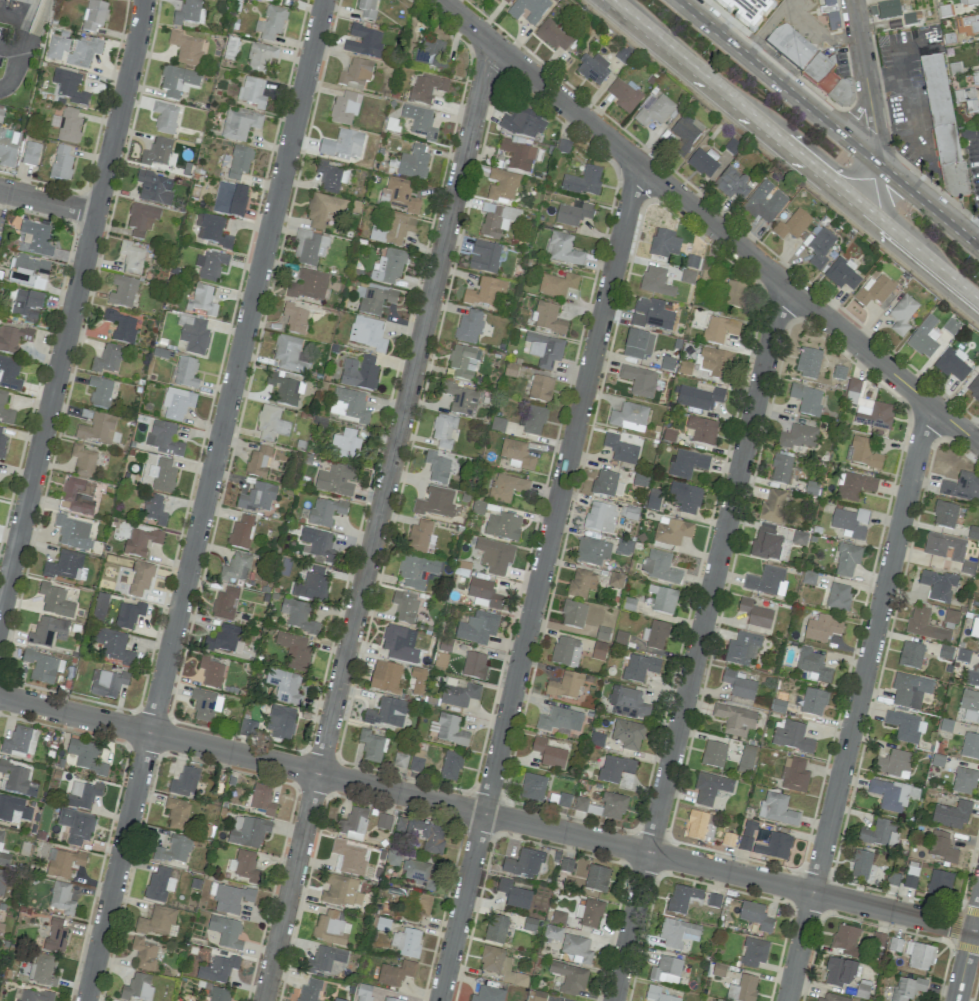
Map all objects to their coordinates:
building: (272, 0)
building: (504, 2)
road: (611, 4)
road: (612, 4)
building: (367, 8)
building: (888, 9)
building: (528, 10)
building: (747, 10)
building: (187, 12)
building: (831, 14)
building: (94, 15)
building: (270, 23)
building: (967, 25)
road: (766, 26)
road: (37, 27)
road: (818, 29)
building: (553, 36)
building: (363, 41)
building: (978, 42)
building: (791, 45)
road: (21, 46)
building: (186, 48)
road: (11, 49)
building: (73, 50)
building: (430, 53)
building: (260, 57)
building: (593, 68)
building: (356, 73)
road: (884, 78)
building: (975, 78)
building: (178, 81)
building: (829, 81)
road: (781, 83)
road: (866, 83)
building: (70, 87)
building: (426, 88)
building: (252, 92)
building: (623, 95)
building: (966, 98)
building: (344, 108)
road: (910, 110)
building: (654, 111)
building: (165, 117)
building: (420, 121)
building: (523, 123)
building: (67, 125)
building: (239, 125)
building: (943, 127)
building: (684, 133)
building: (343, 146)
building: (8, 148)
building: (157, 152)
road: (799, 152)
building: (30, 154)
building: (517, 155)
building: (703, 161)
building: (239, 162)
building: (413, 162)
building: (61, 163)
building: (330, 177)
building: (583, 181)
road: (870, 183)
building: (732, 184)
building: (501, 185)
building: (154, 188)
building: (399, 195)
building: (229, 199)
road: (48, 200)
building: (765, 202)
road: (930, 207)
building: (324, 209)
building: (573, 213)
building: (0, 219)
building: (141, 219)
building: (496, 220)
road: (709, 221)
building: (792, 225)
building: (394, 229)
building: (213, 231)
building: (35, 238)
building: (664, 243)
building: (309, 247)
building: (820, 247)
building: (563, 249)
building: (484, 256)
building: (131, 257)
building: (210, 265)
building: (388, 267)
building: (706, 269)
building: (28, 272)
building: (842, 274)
building: (655, 281)
building: (557, 284)
building: (308, 285)
building: (874, 290)
building: (122, 292)
building: (486, 292)
building: (734, 294)
building: (202, 300)
building: (375, 300)
building: (26, 304)
road: (73, 306)
building: (651, 314)
building: (902, 314)
building: (294, 318)
building: (549, 318)
building: (121, 326)
building: (469, 327)
building: (951, 327)
building: (719, 329)
building: (366, 333)
building: (924, 337)
building: (12, 338)
building: (638, 344)
building: (544, 349)
building: (289, 354)
building: (107, 359)
building: (463, 362)
building: (715, 362)
building: (808, 362)
building: (952, 365)
building: (185, 372)
building: (839, 372)
building: (359, 373)
building: (9, 374)
building: (639, 380)
building: (540, 388)
building: (974, 388)
building: (286, 390)
building: (100, 392)
building: (698, 396)
building: (461, 399)
building: (807, 399)
building: (177, 403)
building: (868, 408)
building: (5, 409)
building: (629, 417)
building: (534, 421)
building: (271, 424)
building: (498, 424)
building: (97, 429)
building: (0, 430)
building: (443, 430)
building: (702, 430)
building: (798, 436)
building: (164, 438)
building: (346, 445)
building: (2, 446)
building: (621, 449)
building: (864, 453)
building: (516, 455)
building: (83, 460)
building: (258, 462)
building: (687, 464)
building: (437, 467)
building: (780, 468)
building: (162, 475)
building: (336, 480)
building: (604, 483)
building: (855, 486)
building: (506, 487)
building: (962, 487)
building: (78, 495)
building: (258, 497)
building: (685, 497)
building: (653, 499)
road: (204, 500)
building: (436, 502)
building: (772, 507)
building: (478, 508)
building: (154, 509)
building: (325, 511)
building: (945, 514)
building: (600, 517)
road: (377, 521)
building: (850, 522)
building: (503, 526)
building: (240, 532)
building: (672, 532)
building: (73, 533)
building: (419, 536)
building: (140, 541)
building: (766, 542)
building: (319, 543)
building: (944, 546)
building: (592, 551)
building: (494, 556)
building: (847, 559)
building: (66, 566)
building: (236, 567)
building: (660, 567)
building: (968, 567)
building: (416, 570)
building: (809, 577)
building: (140, 578)
road: (538, 581)
building: (767, 581)
building: (581, 583)
building: (312, 585)
building: (938, 585)
building: (483, 593)
building: (838, 597)
building: (663, 599)
building: (56, 601)
building: (225, 603)
building: (405, 605)
building: (100, 608)
building: (573, 614)
building: (755, 614)
building: (129, 615)
building: (298, 616)
building: (922, 624)
building: (477, 628)
building: (822, 628)
building: (975, 630)
building: (48, 631)
building: (655, 635)
building: (226, 639)
building: (398, 642)
road: (697, 642)
building: (445, 645)
building: (114, 646)
building: (742, 648)
building: (294, 651)
building: (565, 651)
building: (911, 655)
building: (441, 660)
building: (813, 664)
building: (474, 665)
building: (43, 666)
building: (639, 667)
building: (211, 672)
building: (386, 676)
building: (972, 679)
building: (416, 681)
building: (107, 683)
building: (739, 684)
building: (285, 686)
building: (564, 686)
building: (910, 690)
building: (459, 695)
road: (856, 701)
building: (813, 702)
building: (628, 703)
building: (203, 704)
building: (970, 705)
building: (387, 713)
building: (735, 719)
building: (560, 720)
building: (280, 723)
building: (905, 727)
building: (247, 728)
building: (628, 734)
building: (793, 737)
building: (16, 742)
building: (371, 746)
building: (970, 746)
building: (549, 753)
building: (713, 754)
building: (86, 756)
building: (746, 759)
building: (400, 761)
building: (416, 764)
building: (893, 764)
building: (451, 766)
building: (615, 768)
building: (794, 775)
building: (17, 779)
building: (964, 781)
building: (184, 782)
building: (532, 788)
building: (710, 788)
building: (83, 794)
building: (890, 795)
building: (261, 799)
building: (559, 800)
building: (613, 806)
building: (586, 807)
building: (14, 809)
building: (776, 809)
building: (177, 813)
road: (489, 814)
building: (951, 815)
building: (384, 822)
building: (353, 824)
building: (76, 825)
building: (696, 825)
building: (248, 831)
building: (880, 833)
building: (423, 834)
building: (728, 839)
building: (745, 843)
building: (778, 846)
building: (941, 847)
building: (174, 850)
building: (3, 853)
building: (349, 857)
building: (63, 863)
building: (523, 864)
building: (861, 864)
building: (566, 865)
building: (246, 866)
building: (420, 874)
building: (597, 878)
building: (892, 879)
building: (2, 881)
building: (939, 883)
building: (159, 885)
building: (342, 891)
building: (514, 894)
building: (61, 898)
building: (231, 898)
building: (682, 898)
building: (714, 900)
building: (422, 906)
building: (589, 913)
building: (755, 916)
building: (157, 921)
building: (381, 924)
building: (330, 928)
building: (1, 929)
building: (496, 929)
building: (226, 931)
building: (552, 932)
building: (676, 932)
building: (55, 936)
building: (846, 940)
building: (406, 942)
building: (894, 944)
building: (577, 949)
road: (966, 950)
building: (754, 952)
building: (144, 953)
building: (919, 956)
building: (324, 959)
building: (501, 966)
building: (218, 969)
building: (42, 970)
building: (666, 970)
building: (839, 972)
building: (395, 973)
building: (570, 977)
building: (138, 987)
building: (908, 988)
building: (743, 989)
building: (309, 990)
building: (363, 992)
building: (219, 994)
building: (488, 994)
building: (658, 994)
building: (33, 995)
building: (831, 997)
building: (389, 999)

